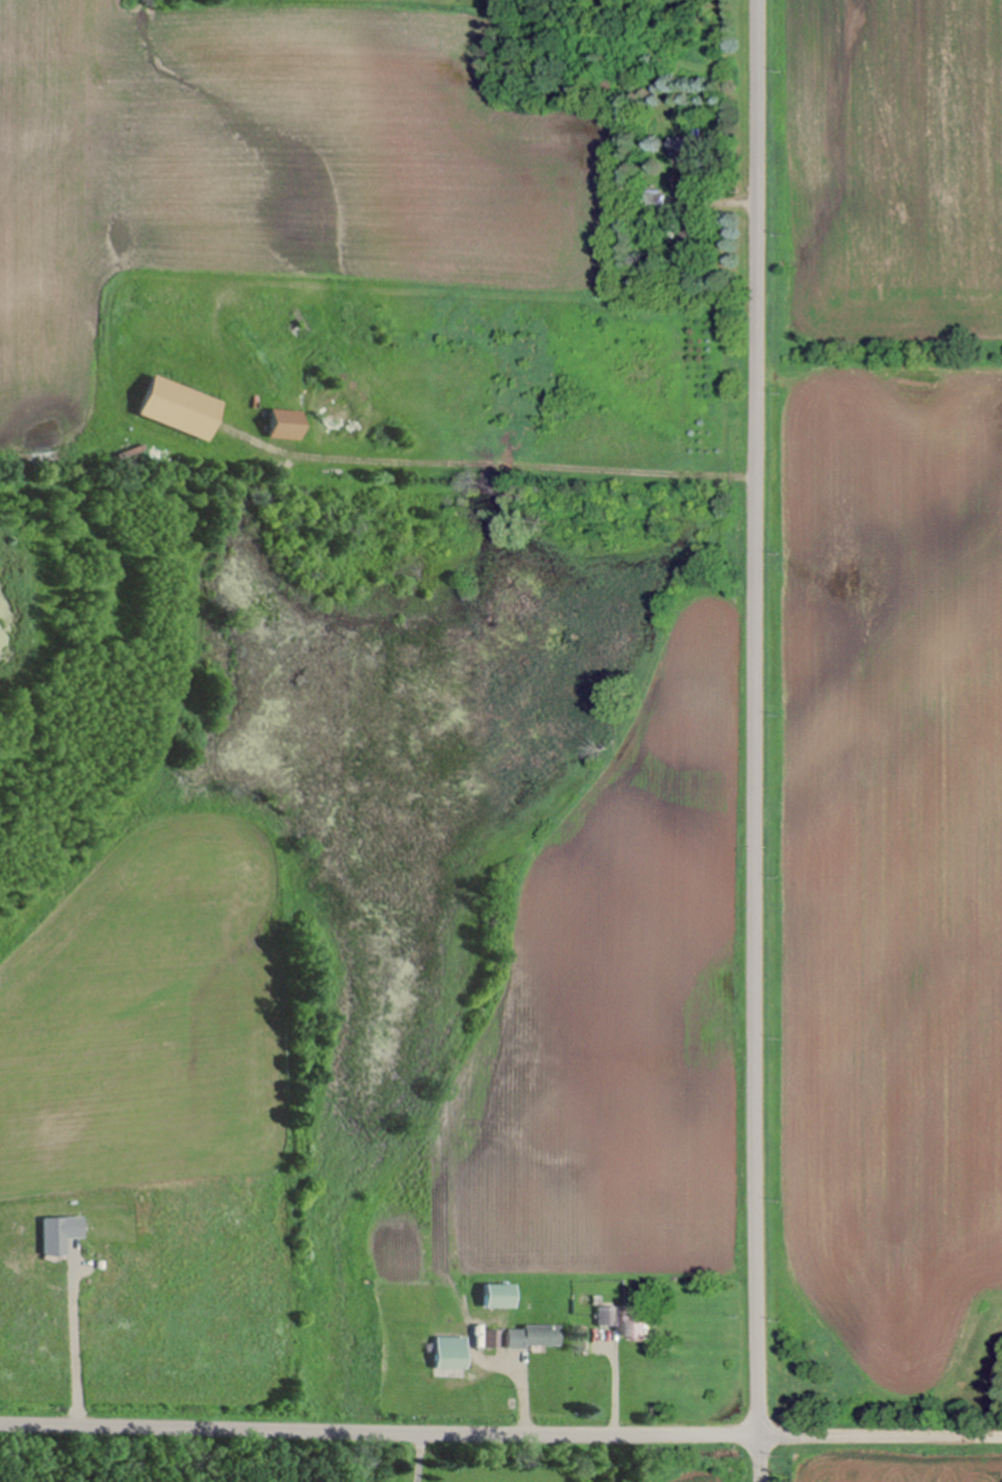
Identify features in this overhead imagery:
building: (691, 151)
building: (654, 202)
building: (181, 409)
building: (287, 425)
road: (497, 459)
road: (754, 741)
building: (499, 1298)
building: (607, 1318)
building: (639, 1328)
building: (533, 1338)
building: (490, 1340)
road: (82, 1351)
building: (450, 1355)
road: (378, 1430)
road: (879, 1437)
road: (423, 1456)

